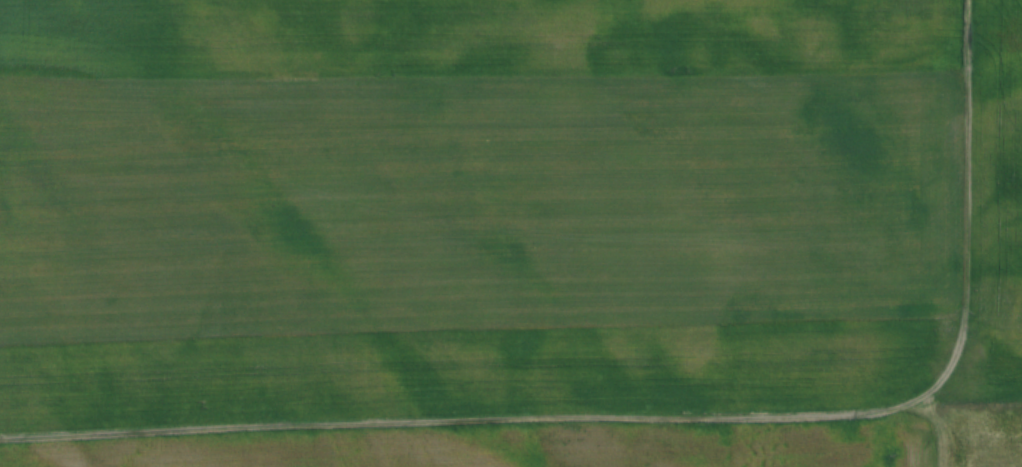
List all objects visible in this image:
road: (968, 211)
road: (464, 418)
road: (927, 437)

